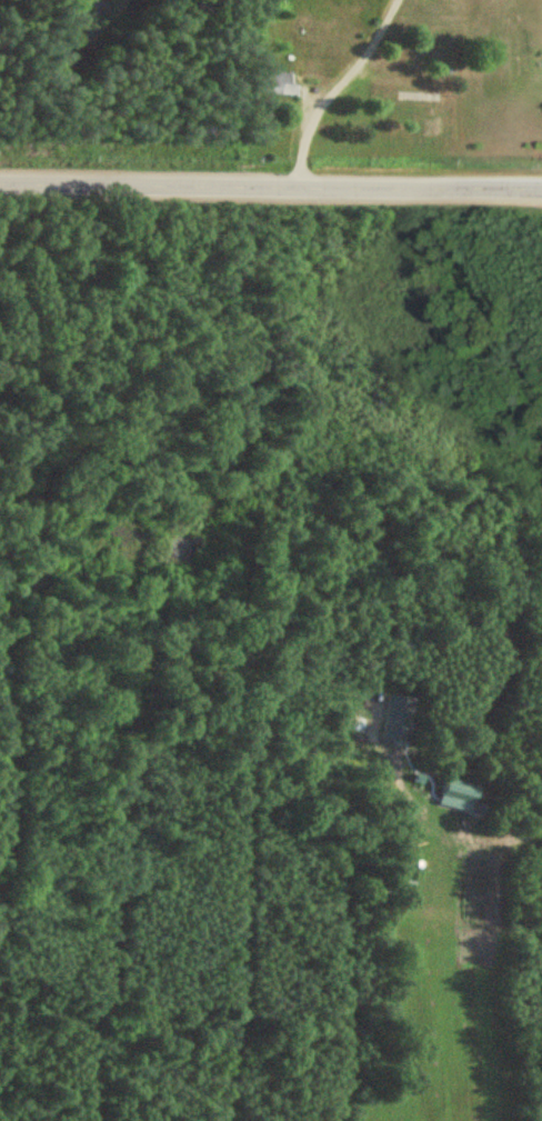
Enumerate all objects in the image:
building: (272, 83)
road: (271, 187)

